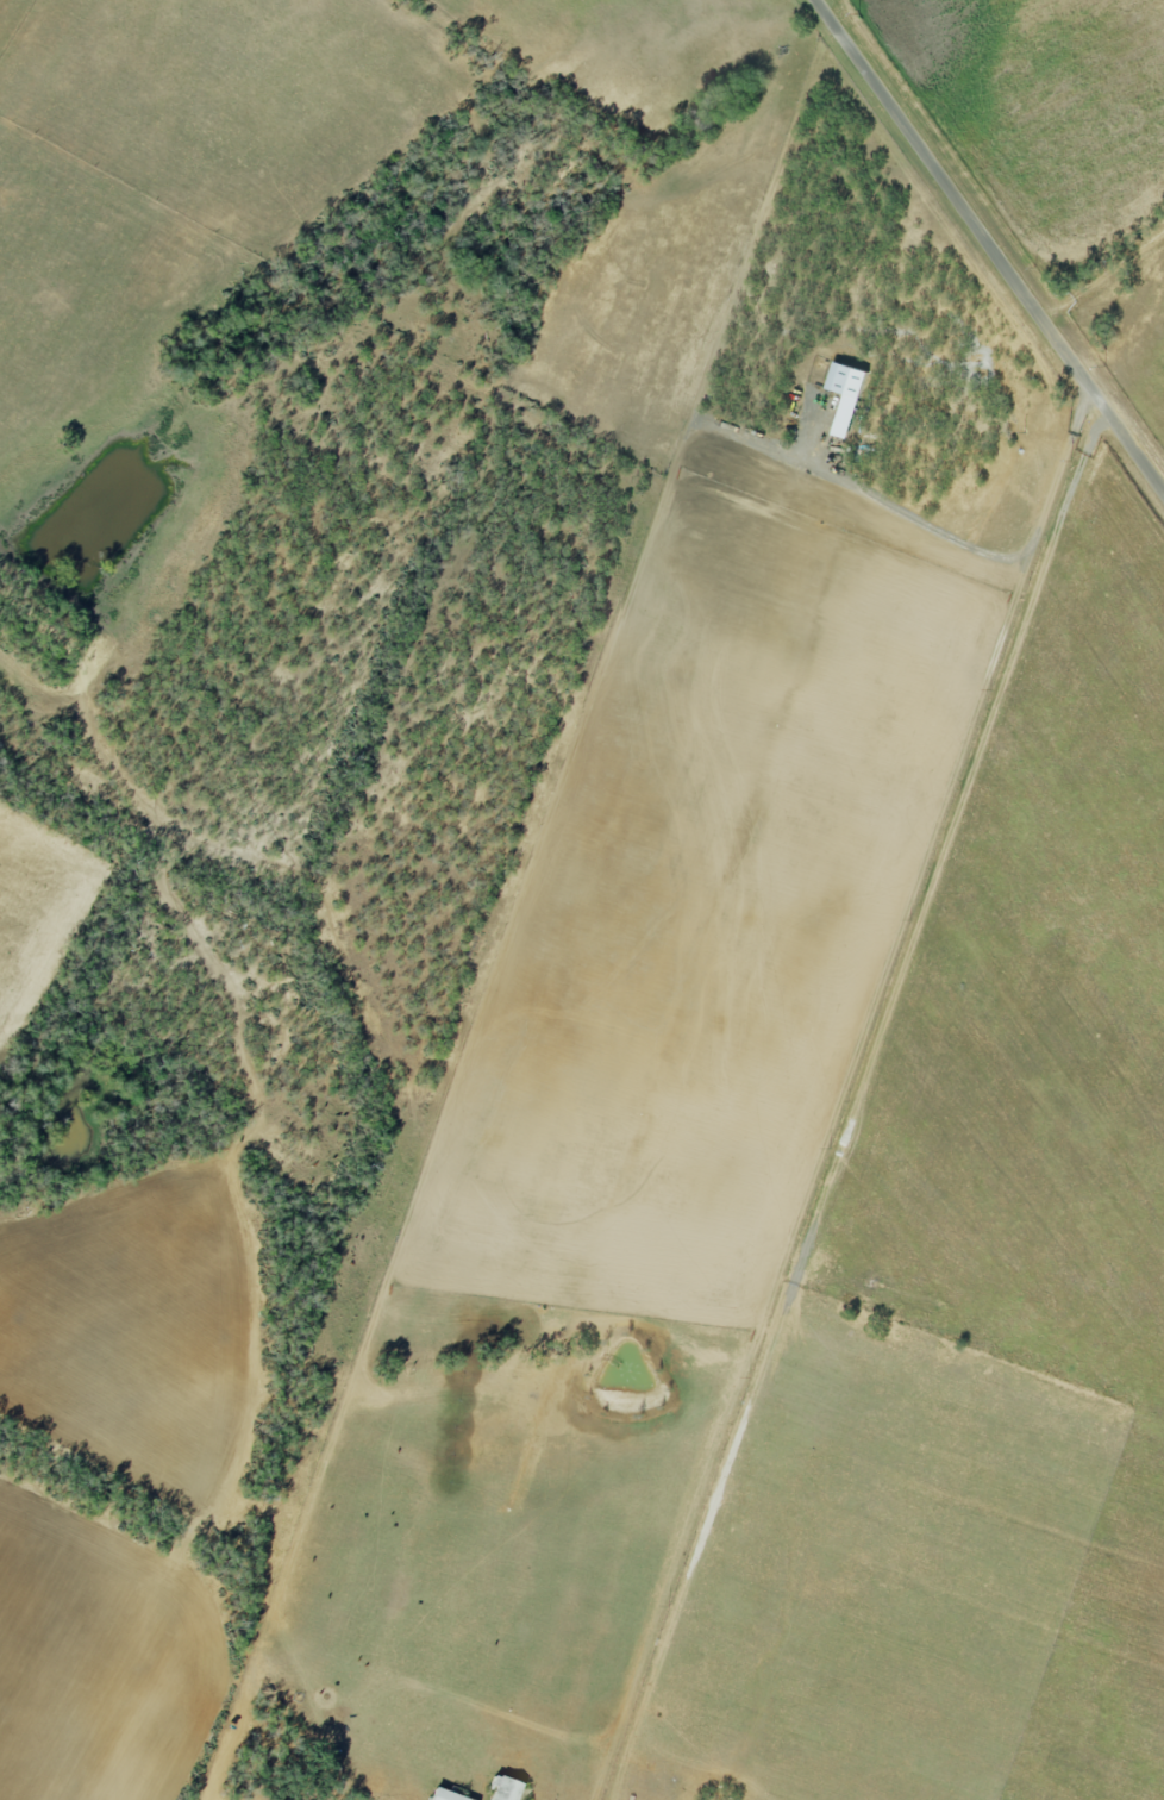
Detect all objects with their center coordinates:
road: (990, 248)
road: (1101, 274)
building: (850, 393)
building: (507, 1788)
building: (449, 1795)

